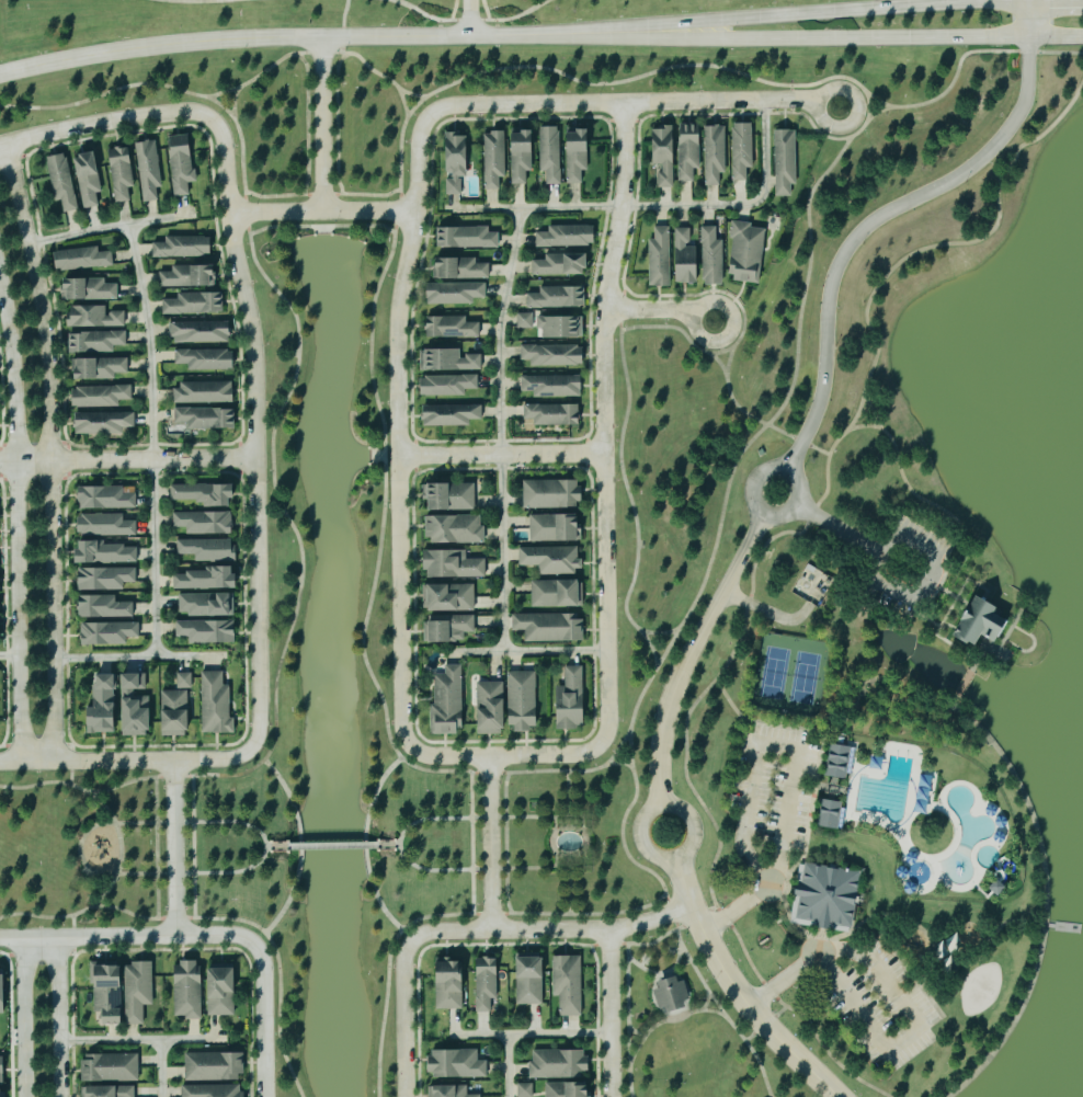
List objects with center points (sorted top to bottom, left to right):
road: (822, 10)
road: (432, 16)
road: (509, 16)
road: (344, 18)
road: (469, 18)
road: (871, 35)
road: (329, 37)
road: (340, 52)
road: (372, 68)
road: (600, 82)
road: (166, 84)
road: (412, 93)
road: (848, 93)
road: (233, 100)
road: (403, 101)
road: (220, 104)
road: (624, 104)
road: (868, 104)
road: (809, 119)
road: (307, 121)
road: (337, 122)
road: (106, 123)
road: (323, 125)
building: (742, 150)
building: (689, 151)
building: (578, 153)
building: (521, 155)
building: (550, 155)
building: (663, 155)
building: (715, 155)
building: (493, 159)
building: (785, 161)
road: (242, 162)
building: (456, 162)
building: (181, 163)
building: (148, 170)
building: (121, 173)
building: (88, 179)
building: (61, 181)
road: (321, 194)
road: (654, 206)
road: (323, 214)
road: (885, 214)
road: (321, 225)
road: (107, 227)
building: (567, 237)
building: (466, 238)
building: (183, 247)
building: (746, 252)
building: (660, 258)
building: (699, 258)
building: (82, 259)
building: (561, 265)
building: (461, 268)
building: (187, 276)
building: (88, 289)
building: (455, 293)
building: (558, 297)
road: (732, 301)
building: (194, 304)
road: (661, 311)
building: (94, 317)
building: (524, 320)
building: (560, 327)
building: (451, 328)
building: (200, 332)
road: (718, 335)
building: (95, 342)
road: (699, 347)
building: (552, 355)
road: (728, 358)
building: (206, 359)
building: (449, 361)
road: (719, 361)
building: (99, 368)
building: (448, 385)
building: (551, 386)
building: (203, 393)
building: (100, 396)
building: (552, 414)
building: (451, 415)
building: (206, 418)
road: (605, 422)
road: (766, 422)
building: (102, 423)
road: (399, 427)
road: (503, 430)
road: (757, 432)
road: (256, 434)
road: (155, 439)
road: (54, 450)
road: (503, 456)
road: (128, 461)
road: (624, 473)
building: (552, 493)
building: (203, 494)
building: (453, 496)
road: (751, 496)
building: (105, 498)
road: (20, 519)
building: (204, 523)
building: (105, 526)
road: (293, 526)
building: (555, 528)
building: (455, 529)
building: (208, 549)
building: (109, 553)
building: (552, 558)
building: (453, 564)
building: (105, 579)
building: (208, 579)
road: (879, 584)
building: (557, 594)
building: (448, 597)
road: (368, 603)
building: (206, 605)
building: (103, 607)
building: (984, 624)
building: (0, 627)
building: (550, 627)
building: (448, 628)
building: (207, 631)
road: (660, 631)
building: (109, 633)
road: (652, 647)
road: (529, 652)
road: (692, 653)
road: (11, 656)
road: (139, 659)
park: (786, 672)
building: (183, 681)
building: (571, 699)
building: (447, 701)
building: (523, 701)
building: (215, 705)
building: (103, 707)
building: (136, 707)
building: (491, 708)
building: (175, 712)
road: (618, 747)
road: (505, 756)
building: (840, 762)
road: (127, 763)
road: (754, 766)
road: (71, 774)
road: (130, 779)
parking lot: (771, 785)
road: (568, 792)
road: (557, 814)
building: (831, 814)
road: (551, 841)
road: (471, 842)
road: (505, 842)
road: (333, 843)
road: (365, 843)
road: (388, 843)
road: (399, 843)
road: (277, 844)
road: (300, 844)
road: (492, 844)
road: (157, 845)
road: (265, 845)
road: (193, 846)
road: (79, 848)
road: (121, 848)
road: (174, 848)
road: (647, 855)
park: (862, 855)
road: (529, 866)
road: (569, 889)
building: (825, 899)
road: (133, 913)
road: (448, 913)
road: (72, 925)
pier: (1061, 926)
road: (554, 930)
road: (128, 935)
road: (656, 939)
road: (278, 968)
road: (660, 972)
building: (529, 980)
building: (486, 984)
building: (567, 984)
building: (449, 985)
park: (981, 987)
building: (187, 989)
road: (738, 990)
building: (2, 992)
building: (122, 992)
building: (221, 992)
building: (670, 992)
road: (707, 1001)
road: (719, 1006)
parking lot: (884, 1006)
road: (612, 1013)
road: (25, 1017)
road: (58, 1017)
road: (403, 1017)
road: (266, 1018)
road: (669, 1018)
road: (627, 1019)
park: (686, 1028)
road: (636, 1031)
road: (755, 1031)
road: (533, 1033)
road: (141, 1042)
road: (882, 1048)
building: (457, 1063)
building: (559, 1063)
road: (509, 1065)
building: (110, 1066)
building: (214, 1066)
road: (162, 1070)
building: (524, 1089)
building: (568, 1089)
building: (213, 1090)
building: (451, 1090)
building: (107, 1092)
building: (2, 1093)

